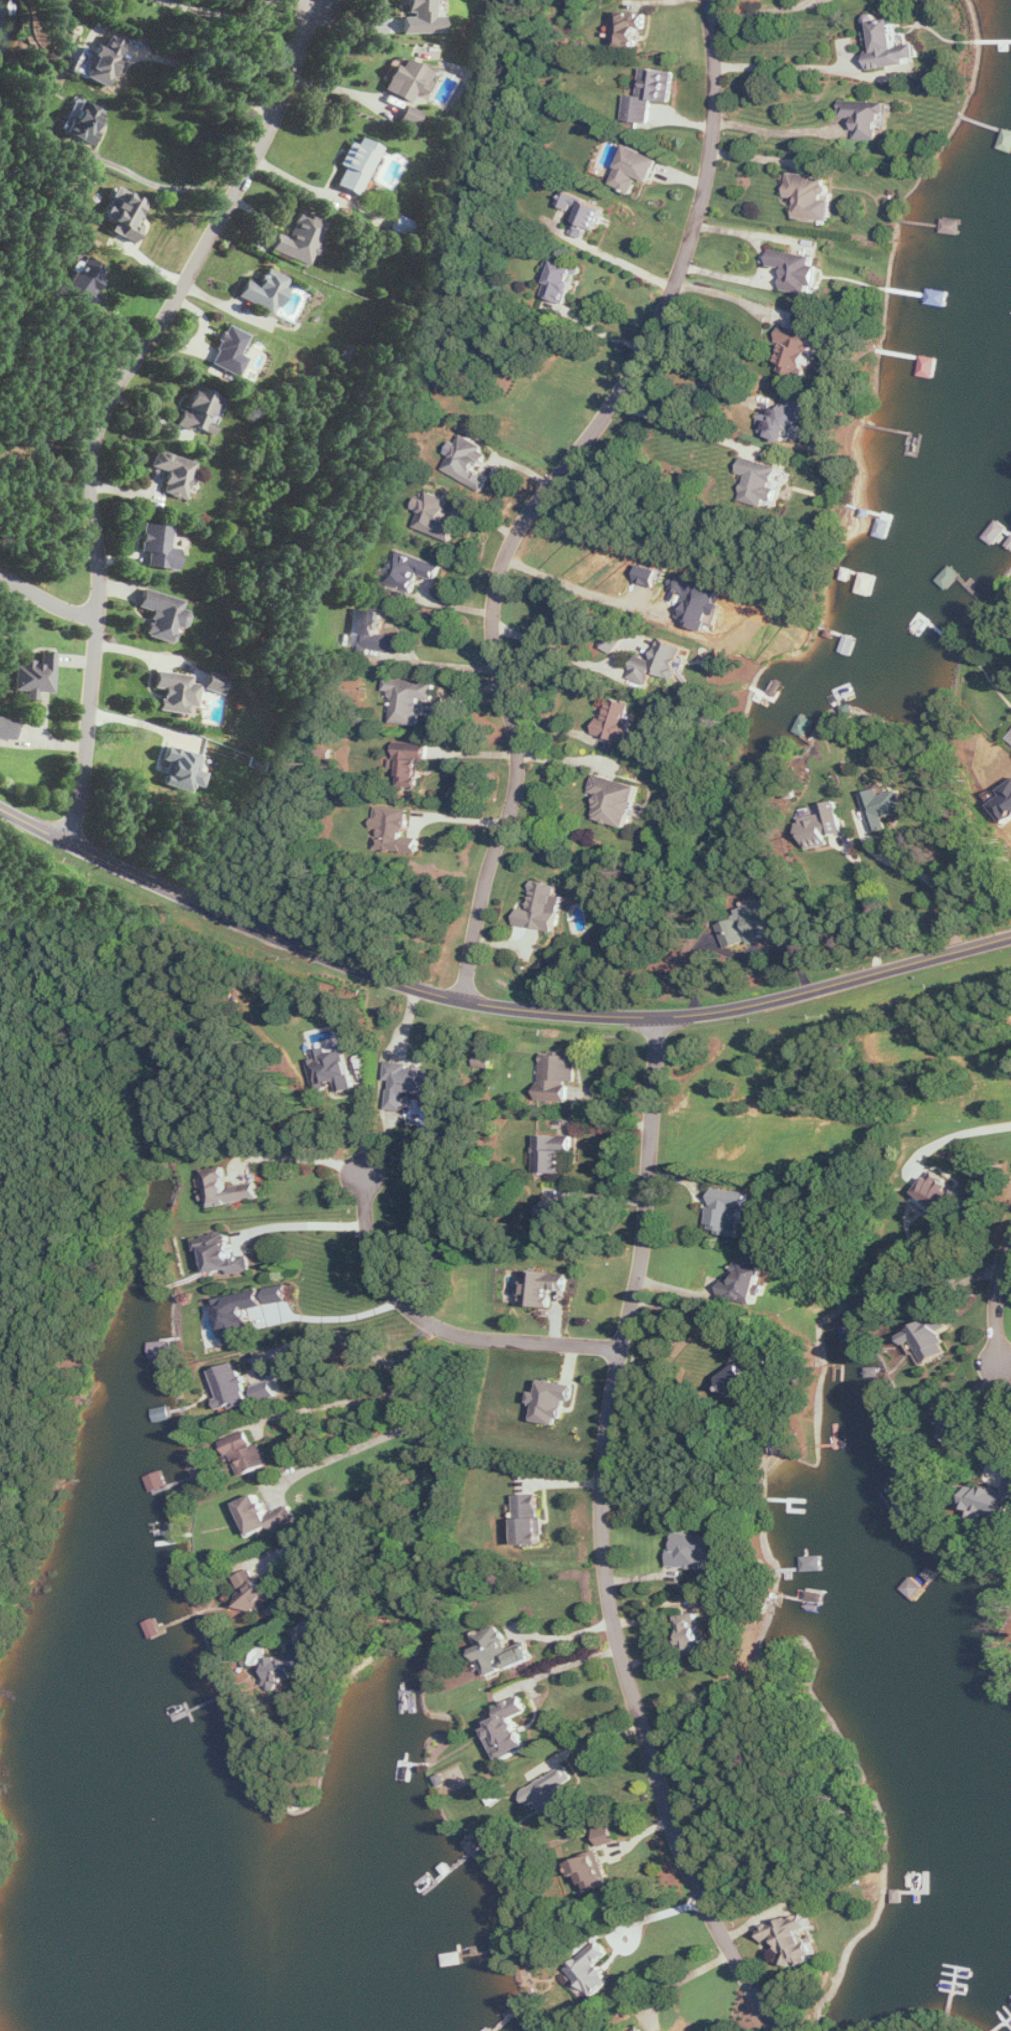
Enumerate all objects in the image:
road: (820, 1)
road: (821, 1)
road: (766, 11)
building: (422, 18)
road: (238, 21)
building: (629, 30)
building: (100, 62)
road: (786, 68)
road: (204, 78)
building: (406, 80)
building: (651, 95)
building: (410, 117)
building: (869, 118)
building: (82, 122)
building: (357, 166)
building: (639, 169)
road: (299, 182)
building: (811, 197)
building: (585, 213)
building: (125, 215)
building: (402, 227)
building: (301, 239)
road: (626, 263)
road: (764, 266)
building: (799, 272)
building: (86, 282)
building: (563, 283)
building: (265, 292)
road: (734, 297)
building: (797, 350)
building: (230, 352)
road: (699, 378)
road: (111, 398)
building: (202, 412)
building: (788, 418)
road: (687, 425)
building: (470, 462)
building: (174, 474)
building: (763, 484)
road: (554, 491)
building: (437, 517)
building: (159, 548)
building: (413, 571)
building: (651, 576)
road: (579, 589)
building: (697, 602)
road: (47, 604)
building: (164, 616)
building: (377, 633)
building: (660, 663)
road: (447, 664)
building: (35, 676)
building: (216, 684)
building: (177, 693)
building: (413, 700)
building: (619, 722)
building: (1010, 738)
building: (412, 768)
building: (181, 770)
building: (617, 801)
building: (1005, 806)
building: (884, 808)
road: (461, 817)
building: (823, 827)
building: (396, 831)
road: (85, 851)
road: (932, 882)
road: (878, 906)
building: (544, 909)
building: (766, 920)
road: (585, 1016)
building: (335, 1071)
building: (413, 1085)
road: (954, 1135)
building: (553, 1154)
road: (302, 1157)
building: (227, 1189)
building: (944, 1194)
building: (555, 1219)
building: (224, 1255)
building: (545, 1288)
building: (280, 1295)
road: (999, 1305)
road: (690, 1310)
building: (241, 1315)
road: (342, 1316)
road: (440, 1329)
road: (333, 1338)
building: (931, 1339)
road: (1007, 1373)
building: (746, 1375)
building: (232, 1389)
building: (267, 1391)
building: (554, 1401)
road: (1003, 1401)
road: (408, 1402)
road: (326, 1405)
building: (960, 1434)
road: (1009, 1444)
building: (248, 1453)
road: (339, 1456)
road: (999, 1457)
building: (990, 1502)
building: (266, 1516)
building: (531, 1520)
road: (603, 1540)
building: (695, 1551)
road: (394, 1562)
building: (255, 1593)
building: (692, 1635)
road: (565, 1636)
building: (501, 1652)
building: (296, 1662)
road: (559, 1670)
building: (511, 1730)
building: (555, 1796)
building: (608, 1835)
building: (592, 1873)
building: (793, 1939)
building: (591, 1972)
road: (681, 1981)
building: (641, 2029)

